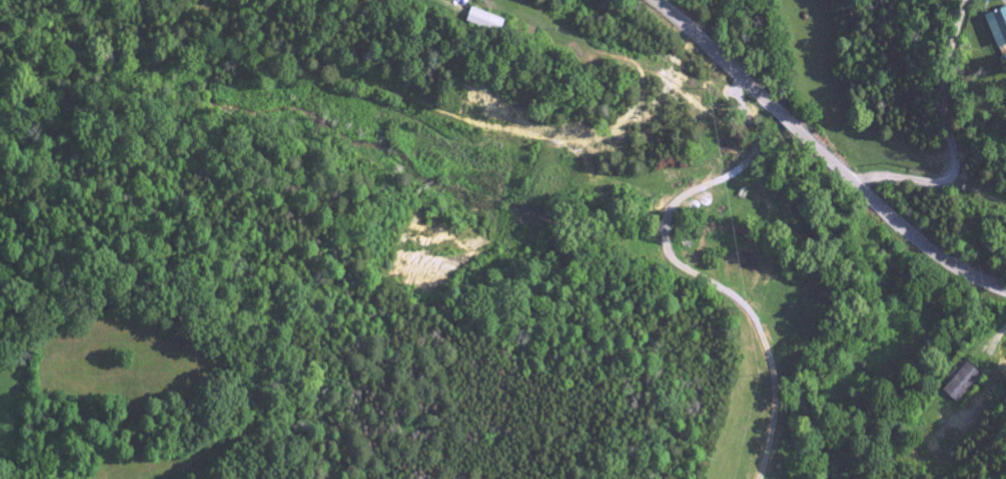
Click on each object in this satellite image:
building: (995, 28)
road: (955, 141)
road: (823, 154)
building: (961, 385)

